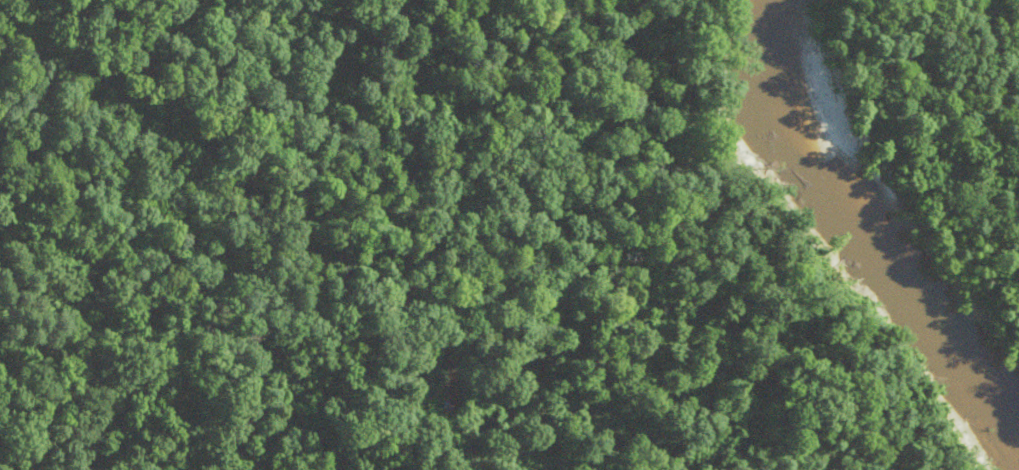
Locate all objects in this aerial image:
river: (865, 236)

